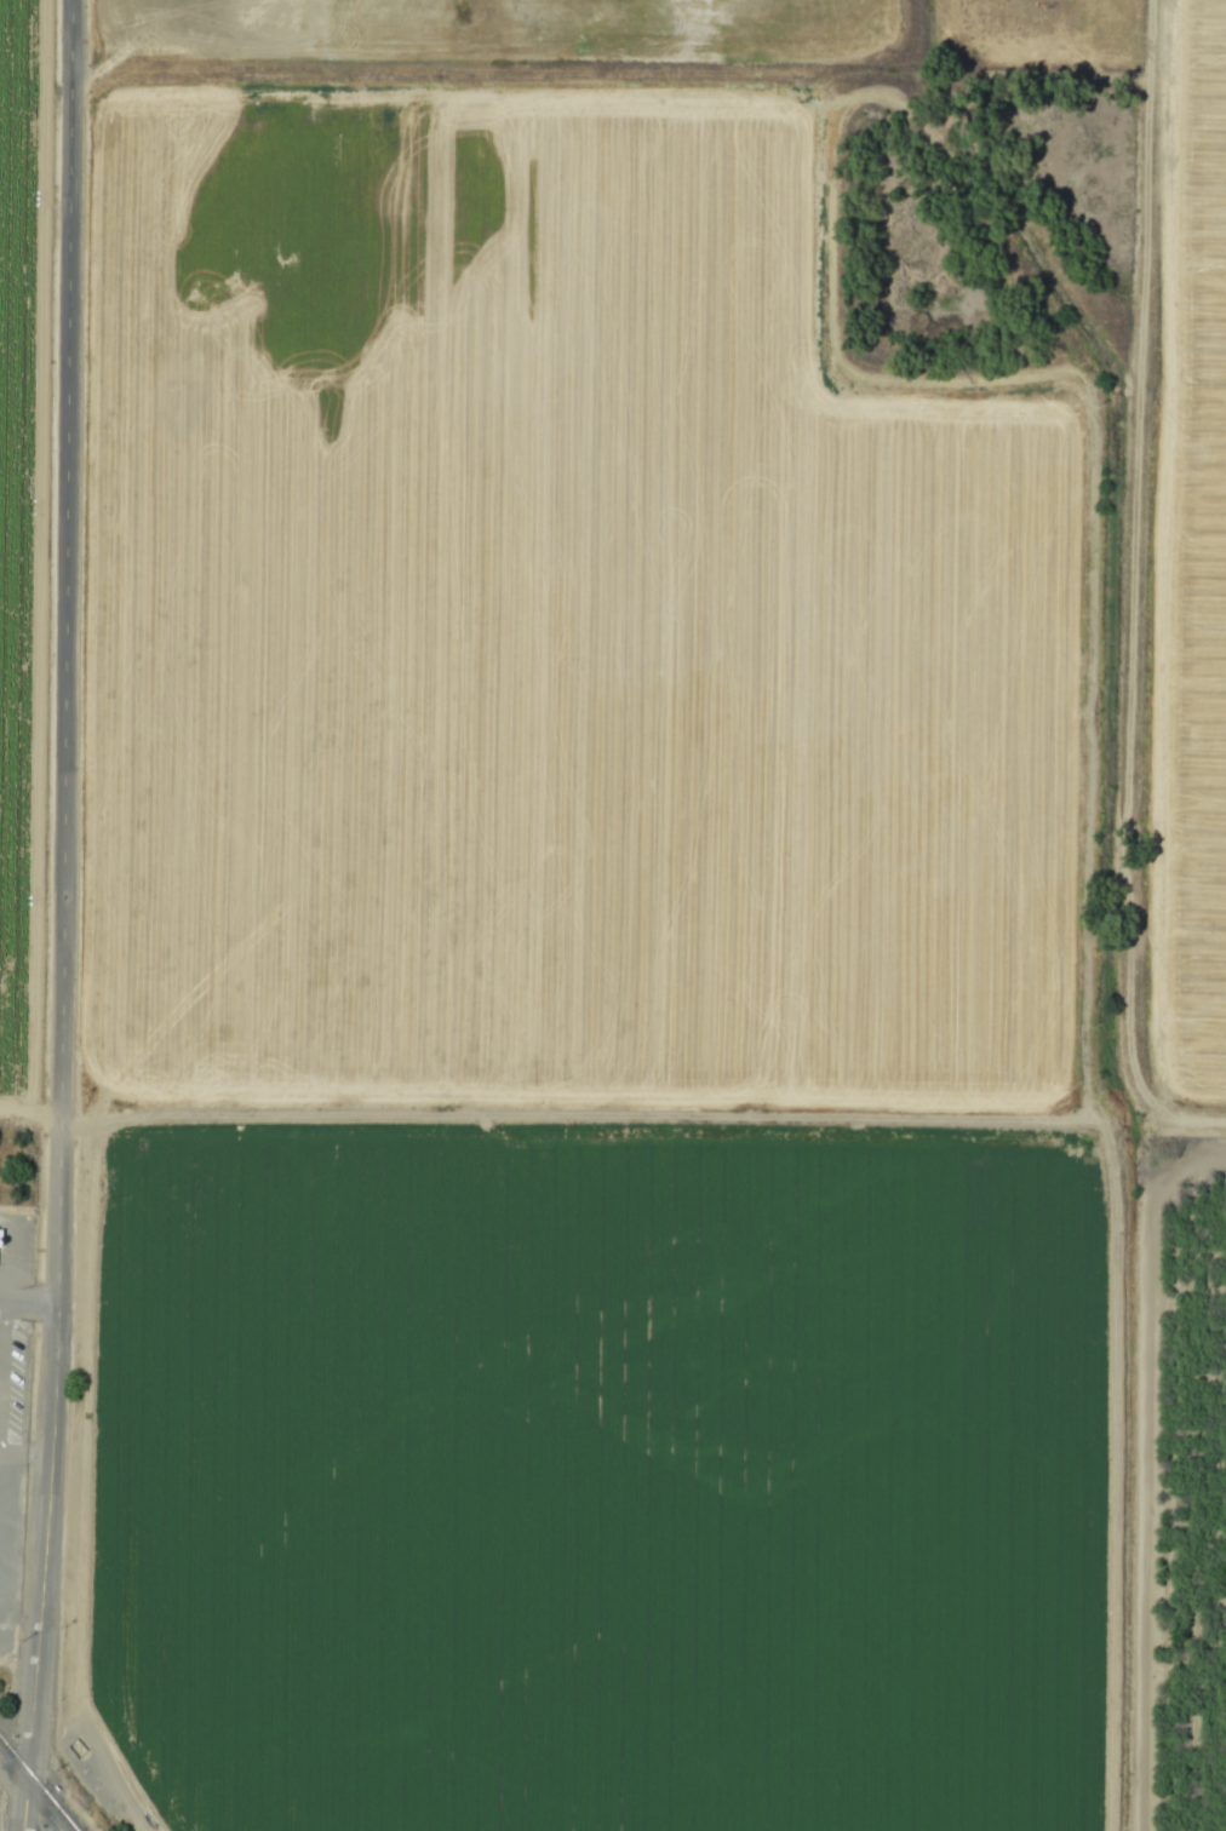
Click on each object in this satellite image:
road: (449, 94)
road: (67, 915)
road: (31, 1127)
road: (6, 1257)
road: (1, 1299)
road: (29, 1302)
road: (1, 1347)
road: (24, 1456)
railway: (29, 1795)

